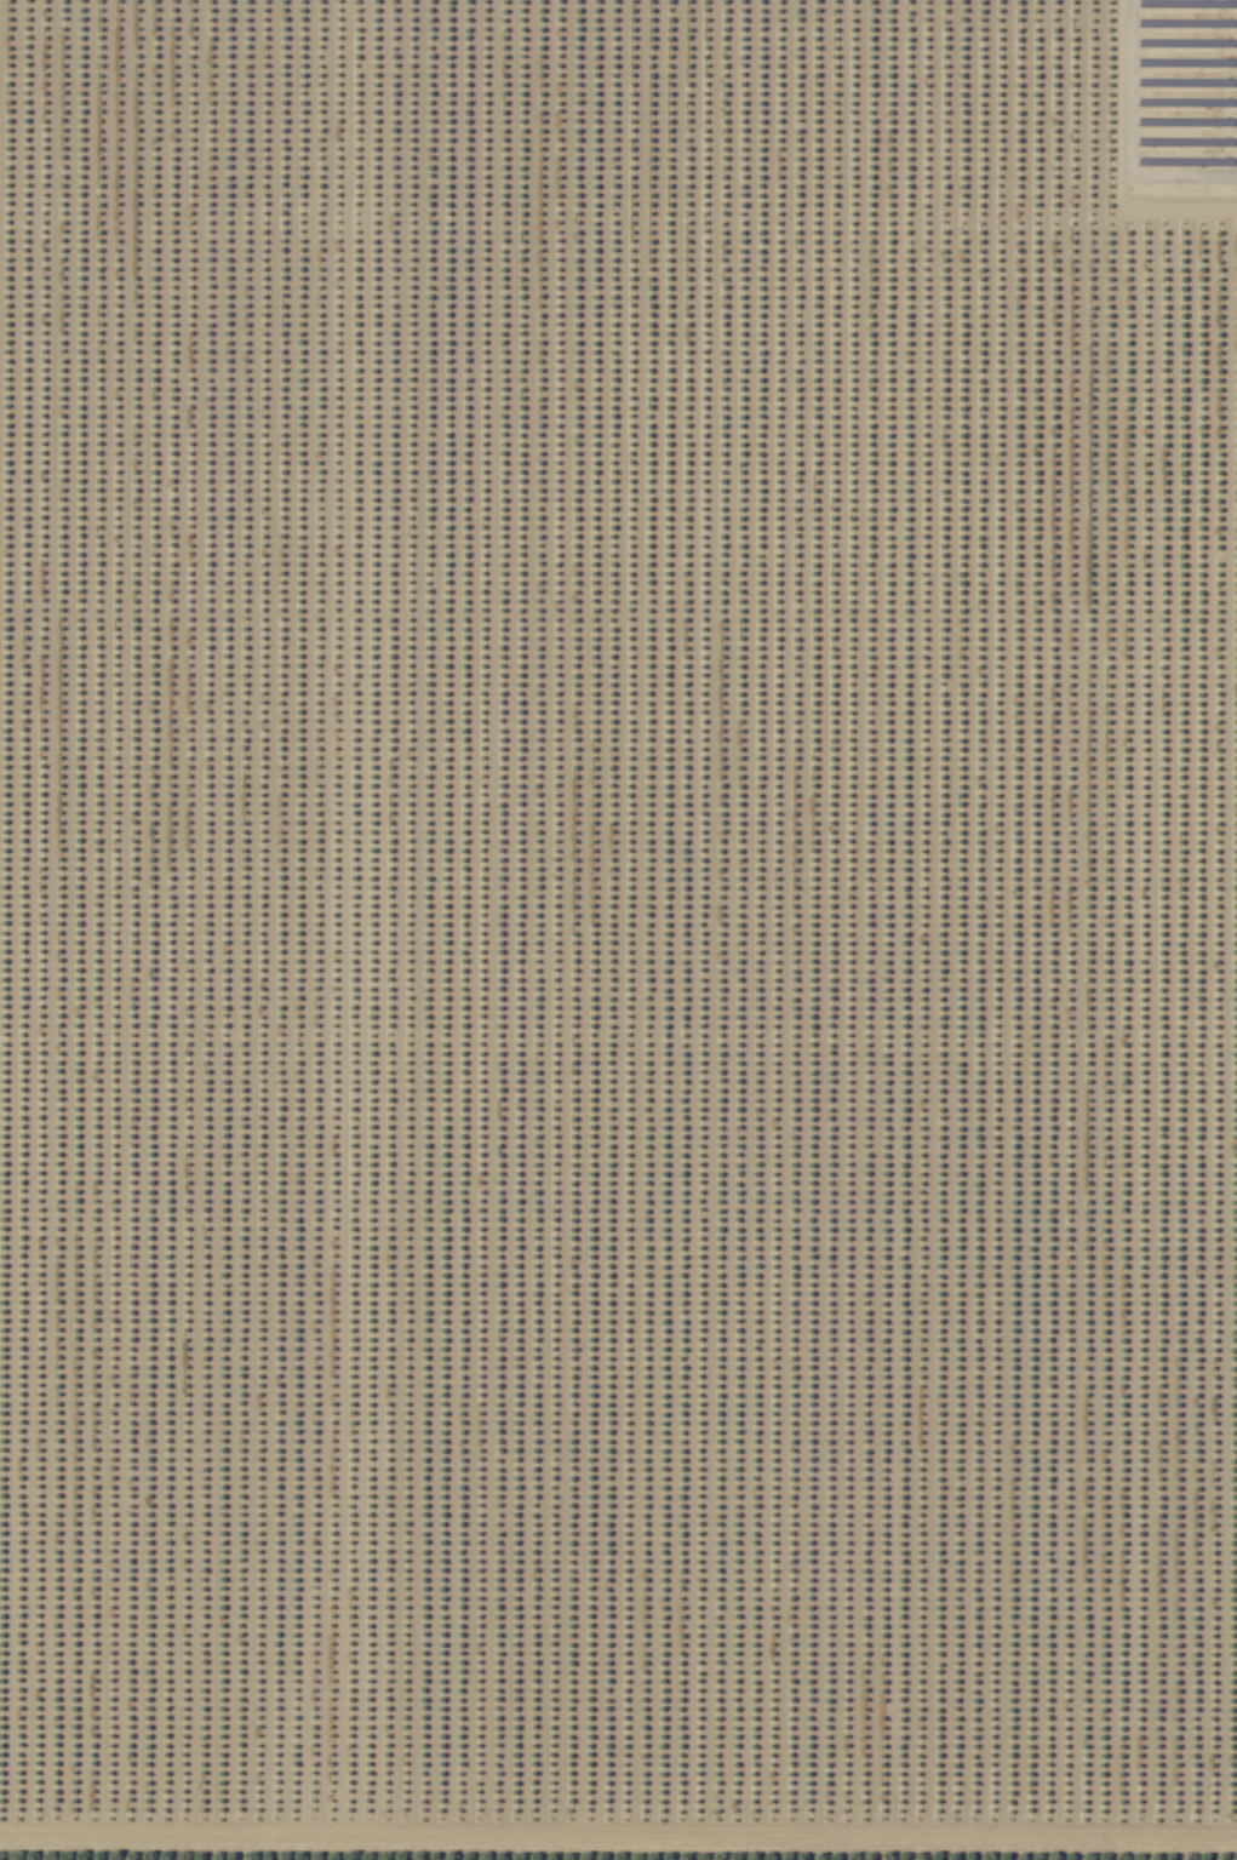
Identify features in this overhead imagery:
crop: (618, 929)

